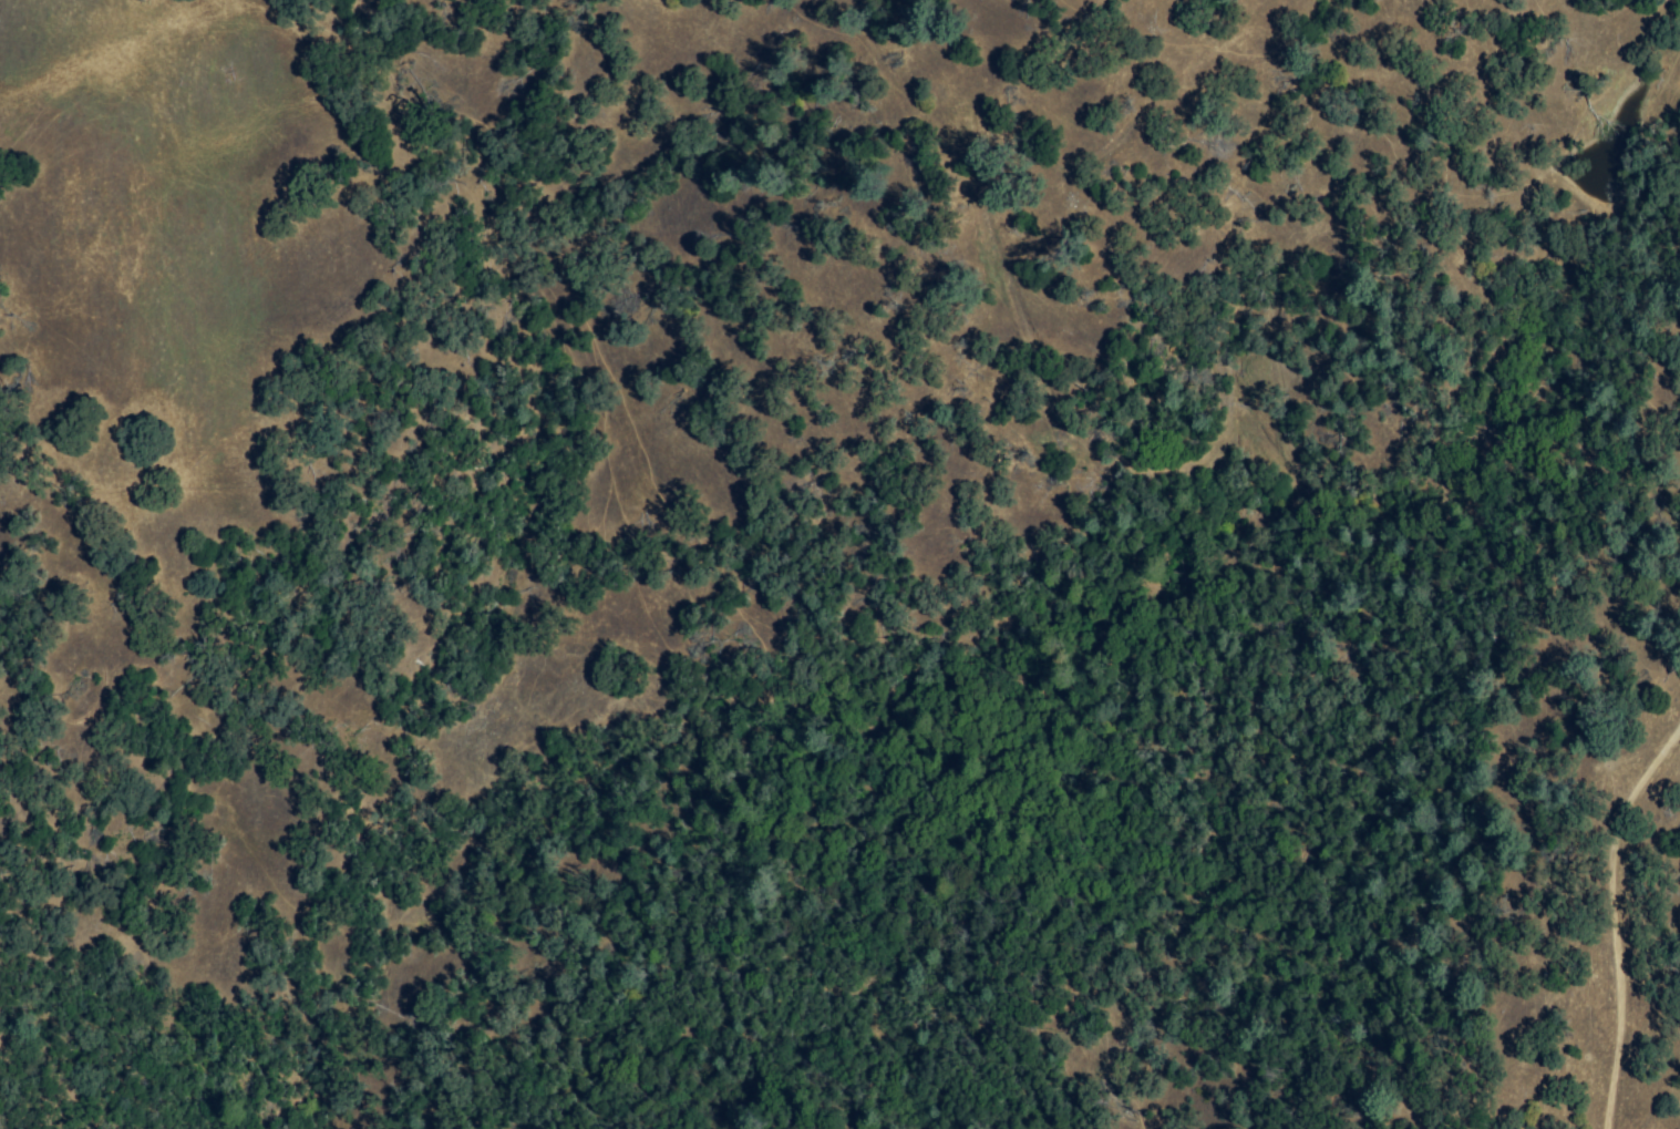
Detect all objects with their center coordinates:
road: (1611, 917)

